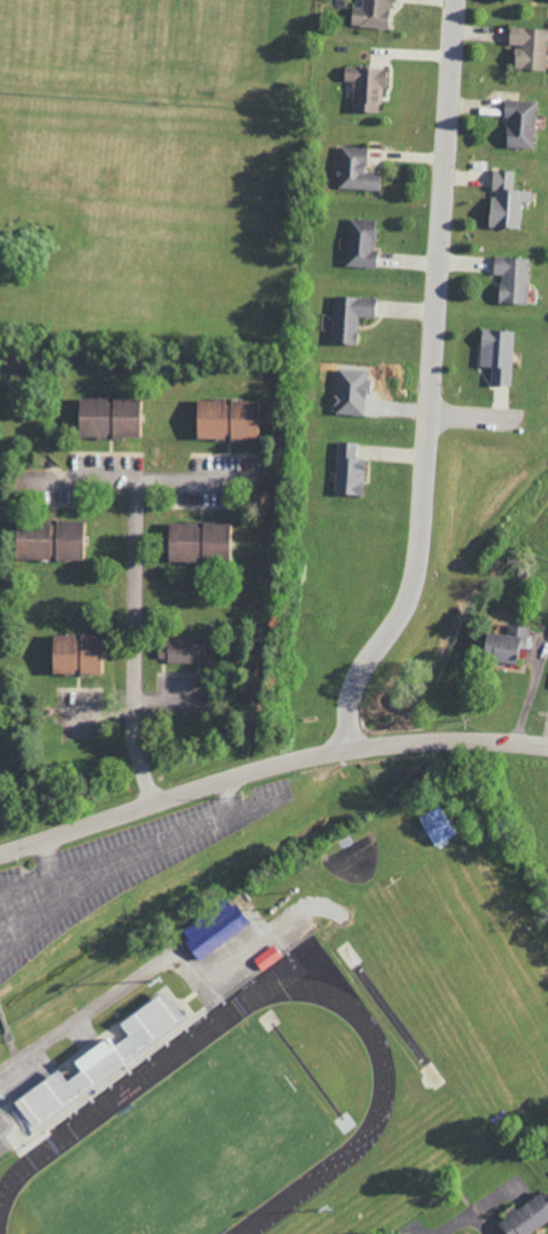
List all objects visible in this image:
building: (369, 13)
building: (526, 47)
building: (364, 88)
building: (519, 124)
park: (155, 167)
building: (354, 171)
building: (504, 201)
building: (360, 243)
building: (510, 280)
building: (348, 317)
building: (496, 355)
road: (429, 383)
building: (103, 419)
building: (226, 420)
building: (347, 471)
road: (137, 478)
building: (48, 541)
building: (194, 543)
road: (131, 641)
building: (502, 644)
building: (179, 648)
building: (71, 653)
road: (269, 765)
building: (435, 826)
building: (212, 928)
building: (97, 1061)
track: (129, 1089)
park: (183, 1155)
building: (525, 1216)

